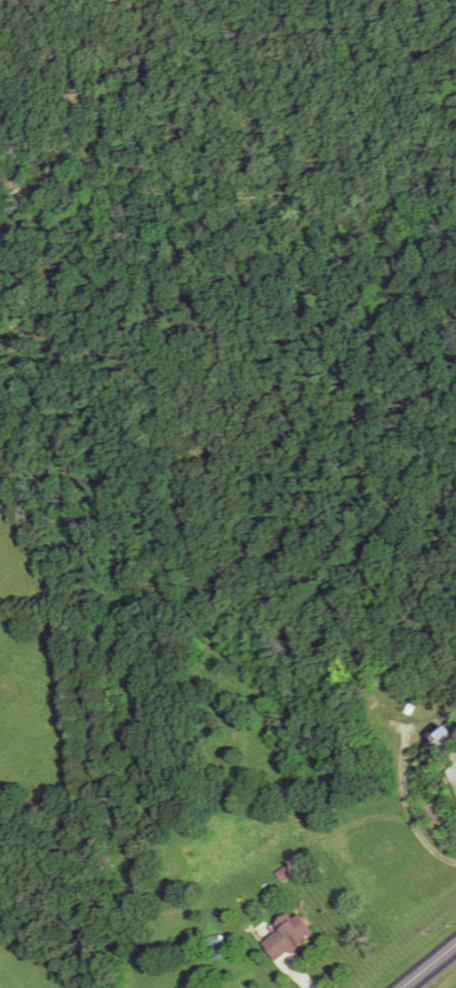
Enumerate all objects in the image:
building: (449, 741)
building: (288, 935)
road: (427, 964)

